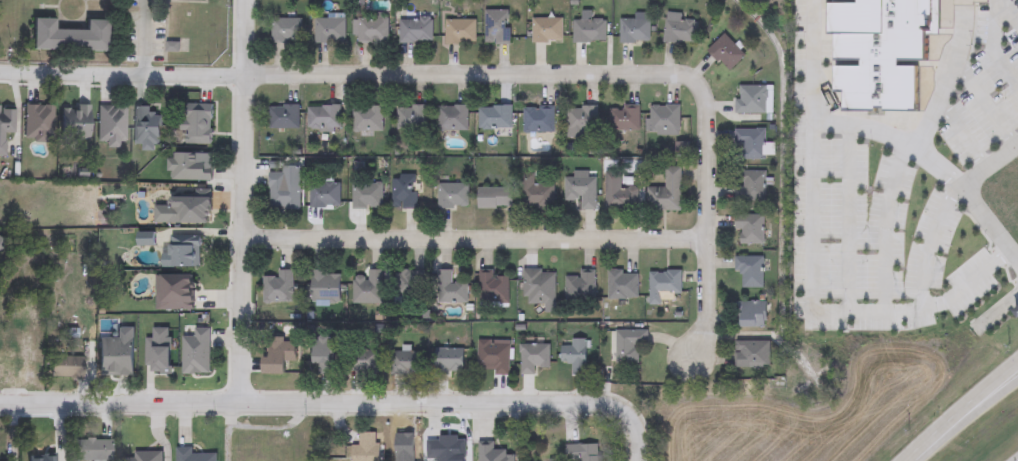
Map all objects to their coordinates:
building: (100, 0)
building: (195, 0)
road: (1009, 11)
building: (496, 29)
building: (634, 30)
building: (679, 30)
building: (415, 31)
building: (588, 31)
building: (287, 32)
building: (329, 32)
building: (370, 32)
building: (547, 32)
building: (460, 33)
road: (144, 37)
building: (70, 38)
building: (174, 47)
road: (993, 48)
building: (881, 50)
building: (725, 54)
road: (812, 64)
road: (352, 76)
road: (951, 77)
parking lot: (985, 86)
road: (986, 108)
building: (283, 119)
building: (411, 119)
building: (495, 119)
building: (324, 120)
building: (368, 120)
building: (453, 120)
building: (624, 121)
building: (538, 122)
building: (662, 122)
building: (39, 124)
building: (582, 124)
building: (76, 125)
building: (198, 125)
building: (112, 126)
building: (6, 127)
building: (147, 130)
road: (963, 138)
road: (934, 164)
building: (189, 169)
road: (989, 170)
building: (284, 191)
building: (581, 192)
building: (404, 194)
building: (666, 194)
building: (536, 195)
building: (324, 197)
building: (453, 197)
building: (620, 197)
building: (367, 198)
building: (495, 199)
road: (245, 204)
parking lot: (865, 217)
road: (850, 220)
road: (707, 222)
road: (884, 225)
building: (750, 230)
road: (476, 243)
road: (928, 246)
building: (184, 253)
building: (750, 273)
building: (411, 286)
building: (623, 287)
building: (664, 287)
building: (325, 289)
building: (539, 289)
building: (580, 289)
building: (278, 290)
building: (368, 290)
building: (451, 291)
building: (493, 291)
building: (174, 294)
road: (997, 312)
road: (827, 313)
building: (117, 355)
building: (196, 355)
building: (279, 357)
building: (323, 357)
building: (494, 358)
building: (533, 359)
building: (574, 360)
building: (450, 363)
building: (363, 364)
building: (407, 365)
building: (67, 368)
building: (8, 369)
road: (337, 407)
road: (968, 415)
road: (968, 424)
building: (369, 449)
building: (94, 450)
building: (447, 450)
building: (494, 453)
building: (584, 453)
building: (147, 456)
building: (193, 456)
building: (258, 456)
building: (44, 458)
road: (637, 458)

